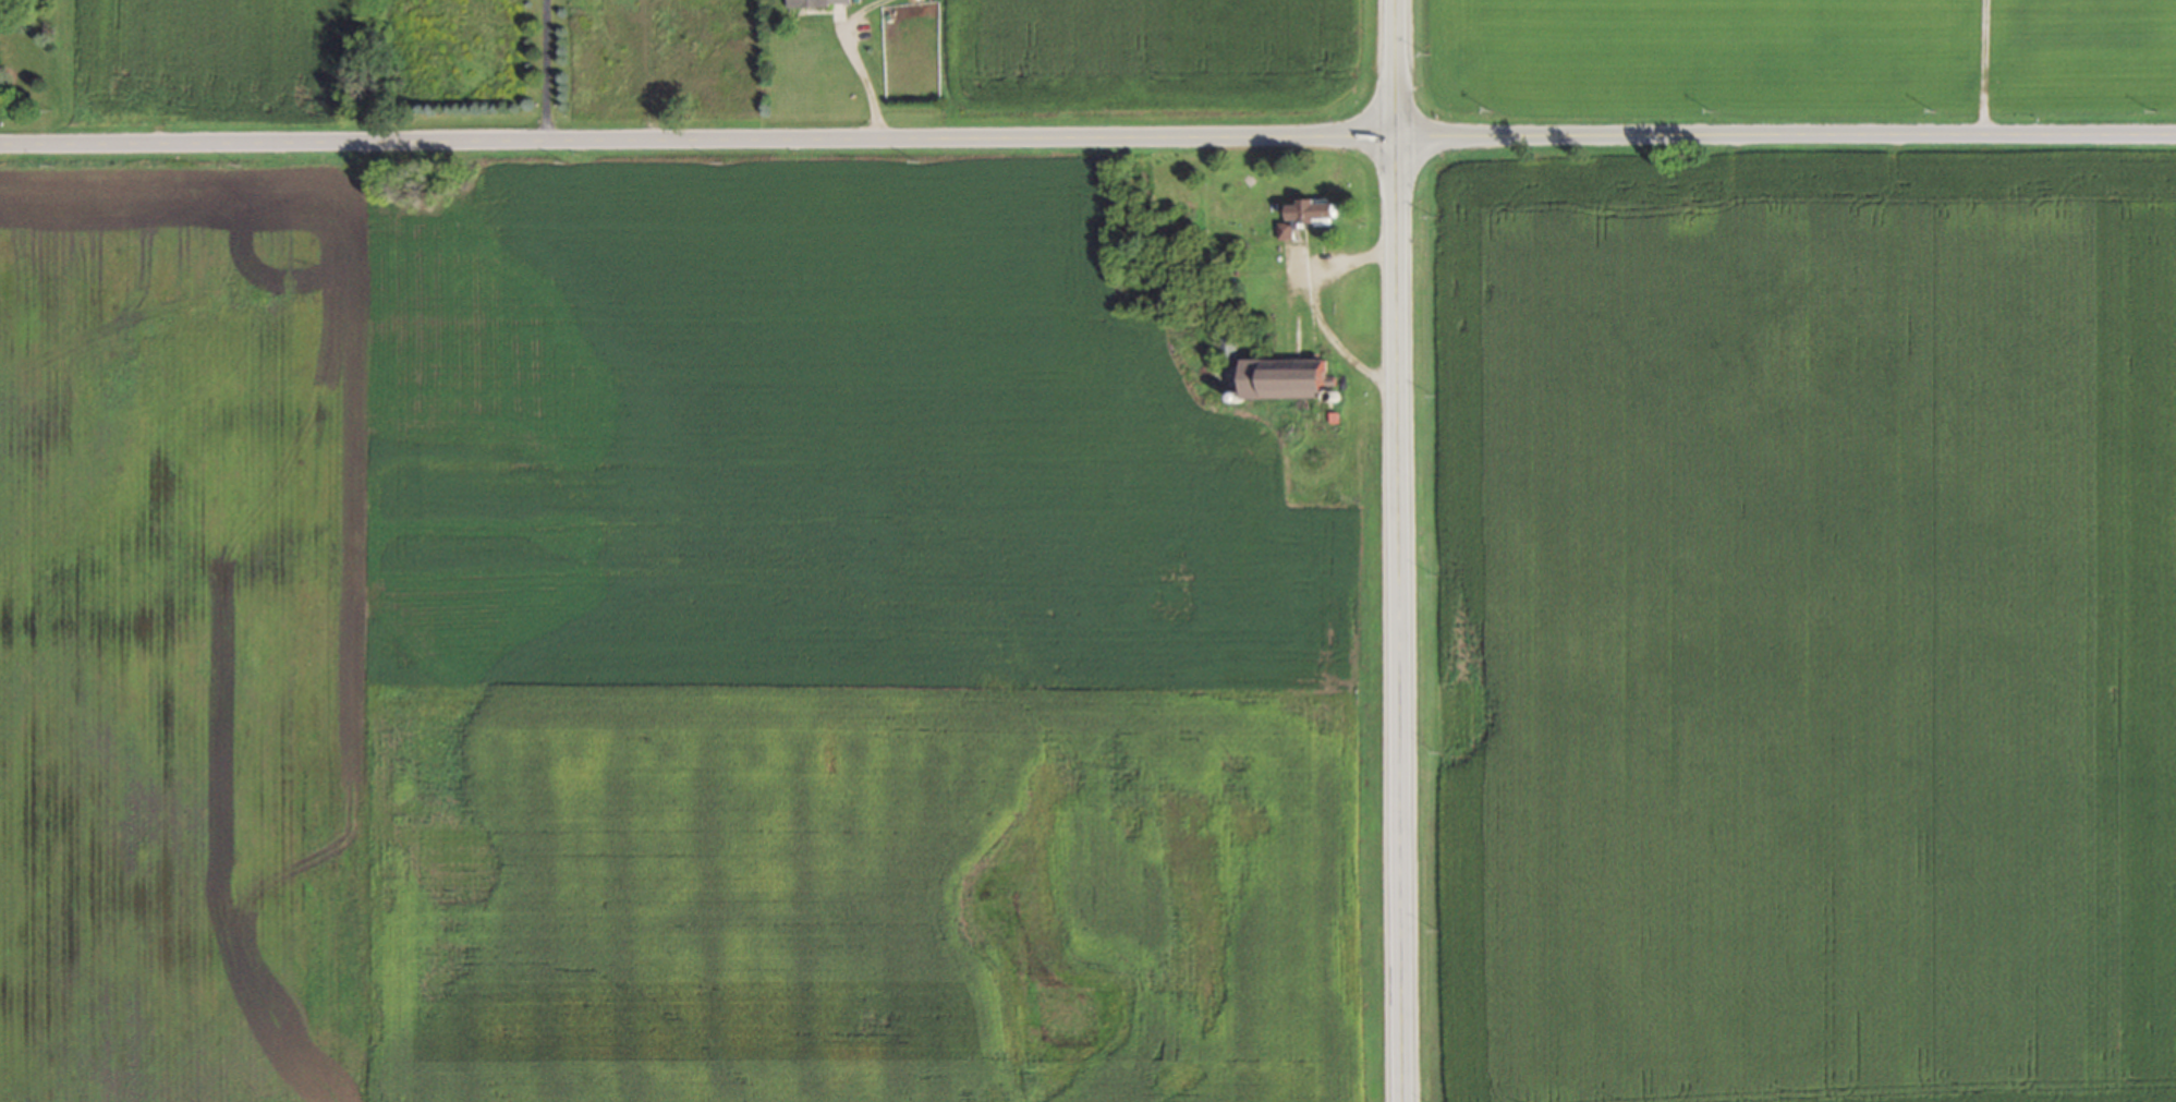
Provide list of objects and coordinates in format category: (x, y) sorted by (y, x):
building: (822, 1)
road: (545, 70)
road: (1087, 136)
building: (1313, 208)
building: (1286, 230)
building: (1226, 341)
building: (1288, 375)
road: (1399, 550)

